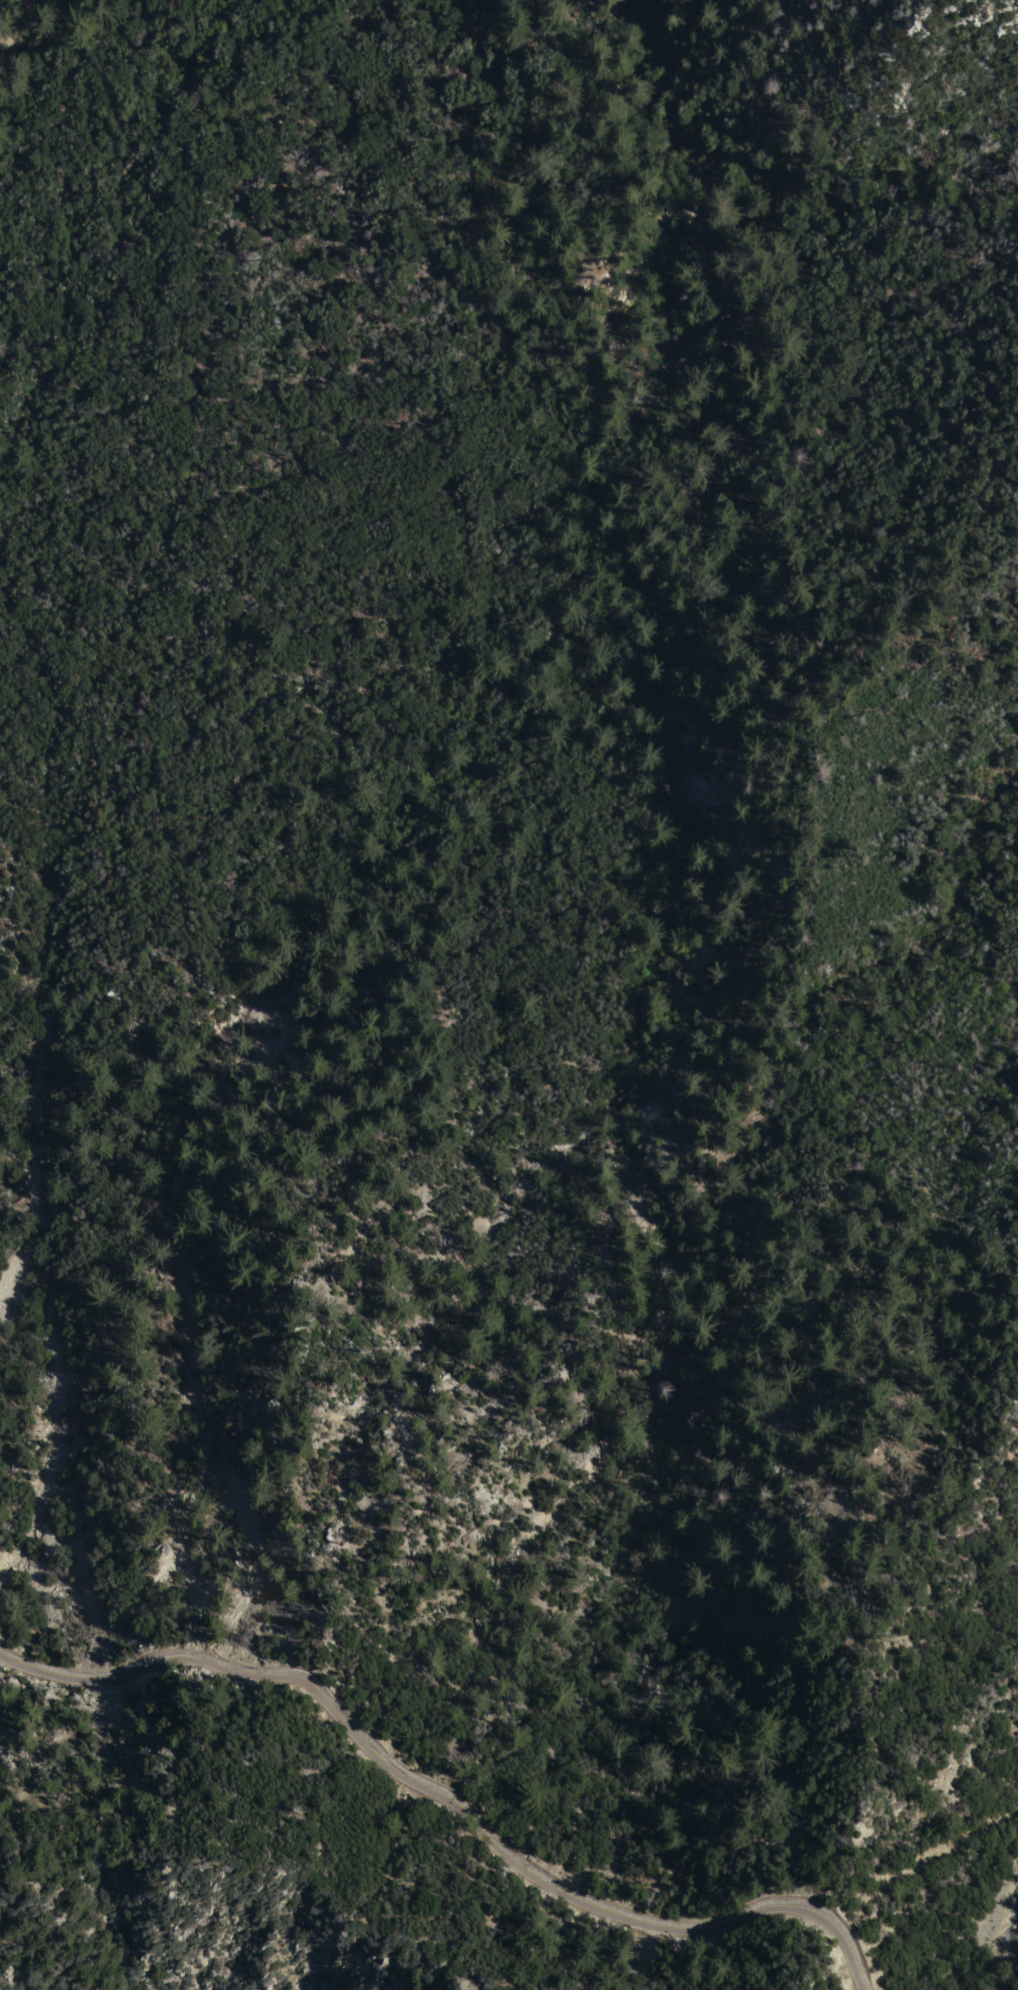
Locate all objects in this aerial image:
road: (451, 1798)
road: (322, 1859)
road: (789, 1958)
road: (650, 1989)

